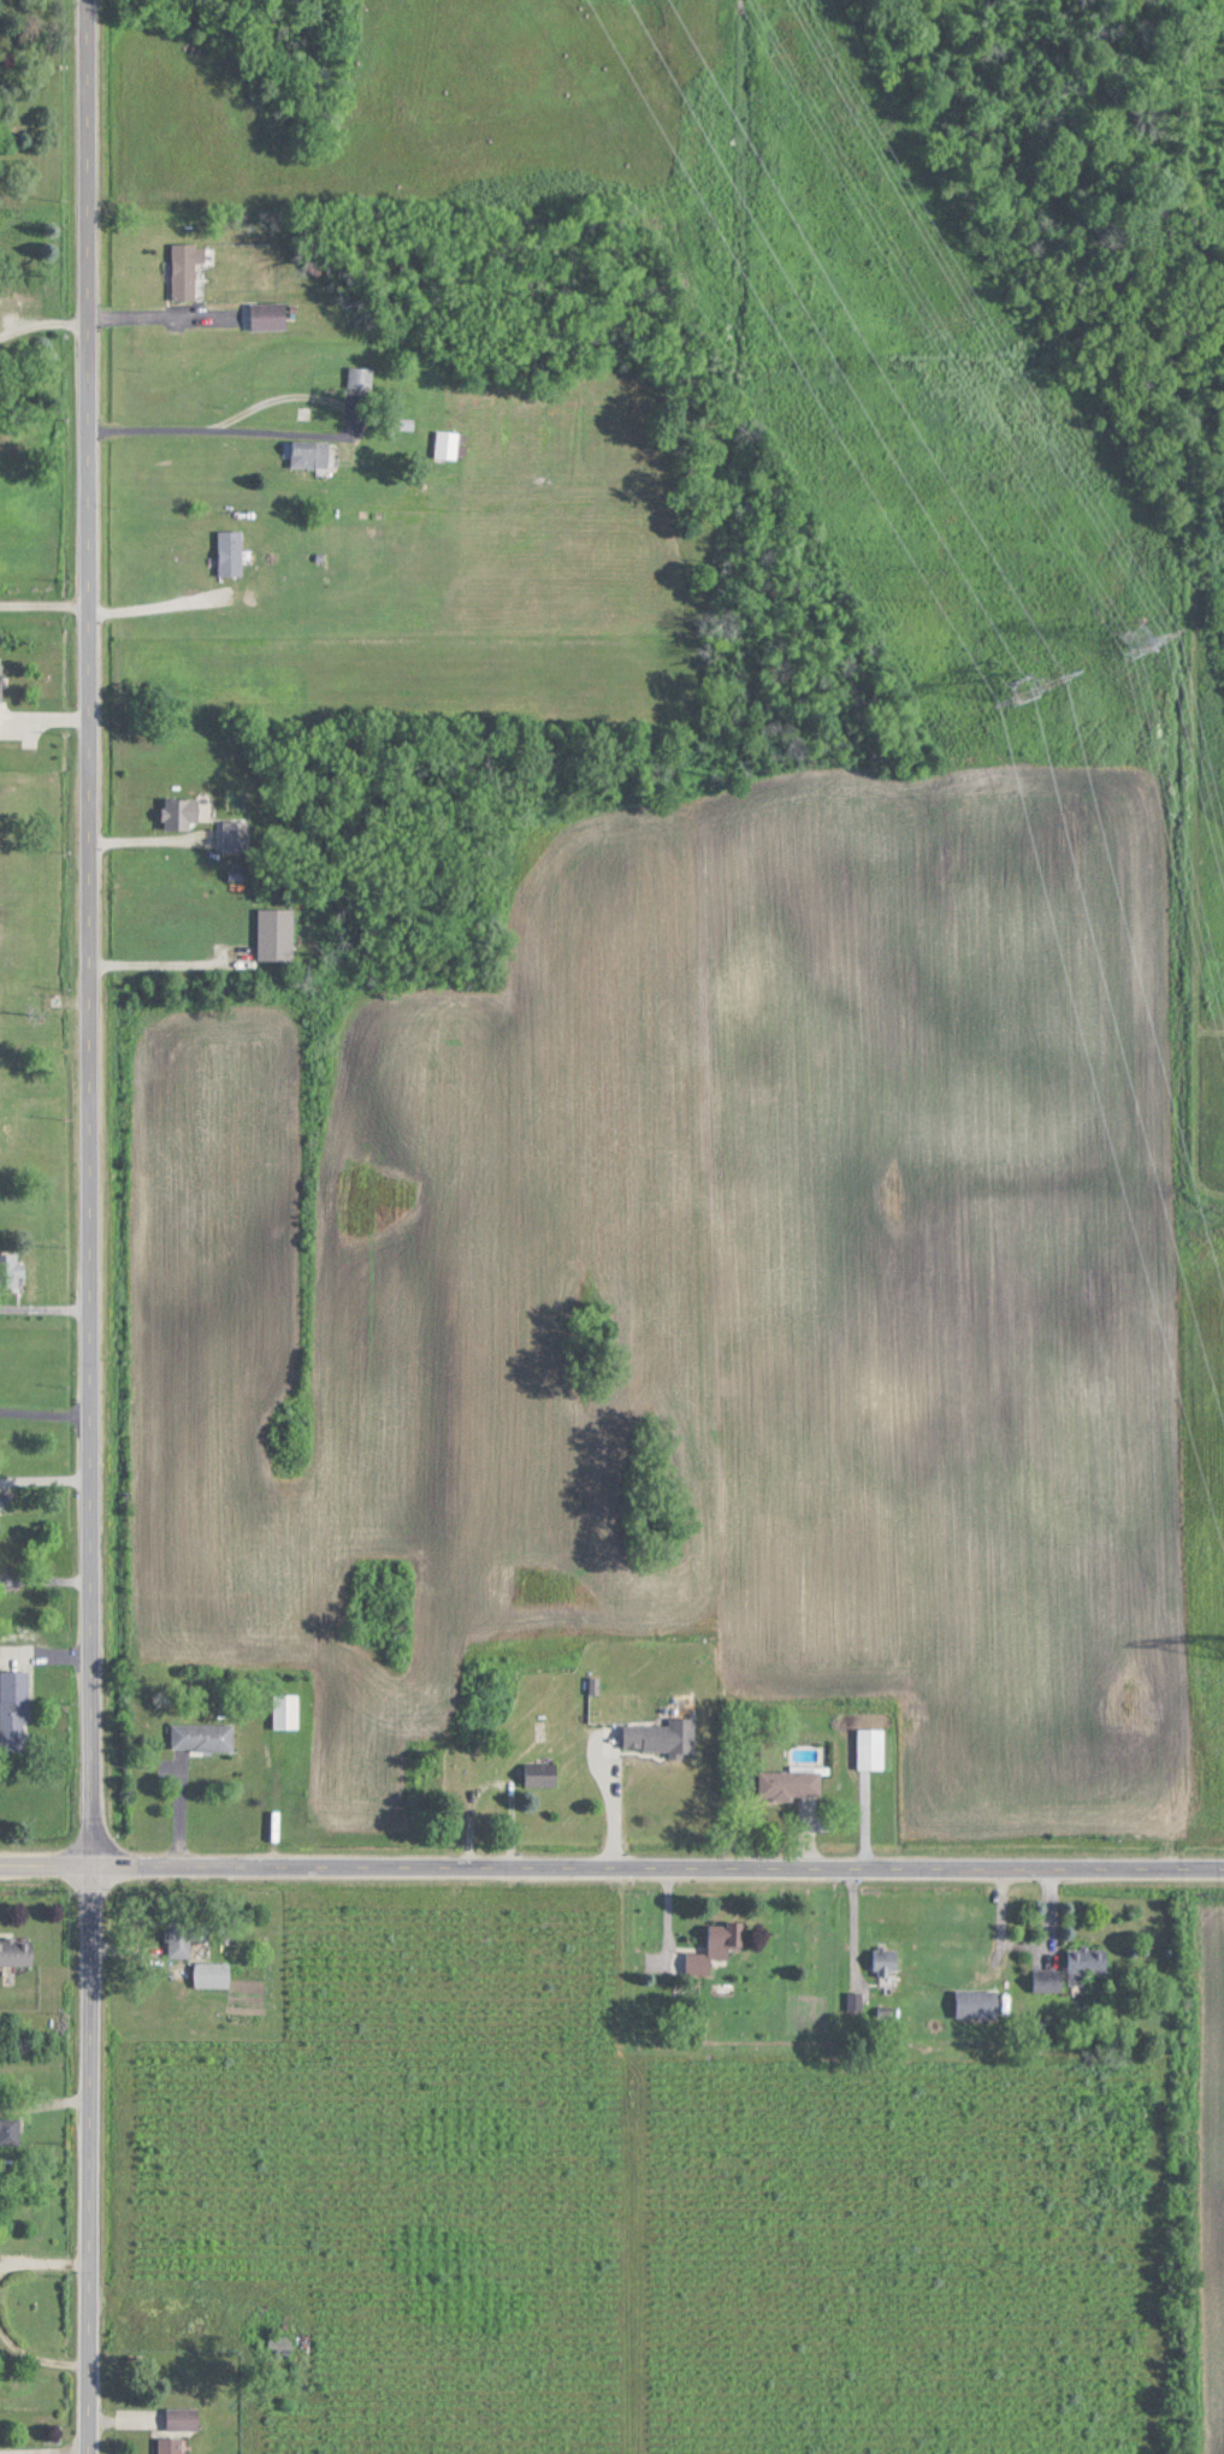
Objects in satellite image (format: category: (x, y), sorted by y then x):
building: (188, 270)
building: (268, 314)
road: (164, 317)
building: (360, 377)
road: (302, 394)
building: (448, 444)
building: (309, 453)
building: (231, 552)
road: (46, 603)
road: (161, 603)
power tower: (1143, 640)
power tower: (1024, 686)
building: (0, 698)
building: (182, 812)
building: (236, 835)
road: (95, 1226)
building: (11, 1271)
road: (47, 1432)
road: (48, 1497)
building: (14, 1710)
building: (286, 1710)
building: (663, 1735)
building: (203, 1737)
building: (871, 1749)
building: (542, 1775)
building: (791, 1784)
road: (660, 1855)
road: (48, 1856)
road: (857, 1918)
building: (185, 1934)
building: (716, 1945)
building: (16, 1950)
building: (886, 1961)
building: (1086, 1962)
building: (213, 1974)
building: (1047, 1983)
building: (977, 2003)
building: (12, 2129)
road: (42, 2259)
road: (39, 2354)
building: (282, 2363)
building: (183, 2417)
building: (171, 2444)

